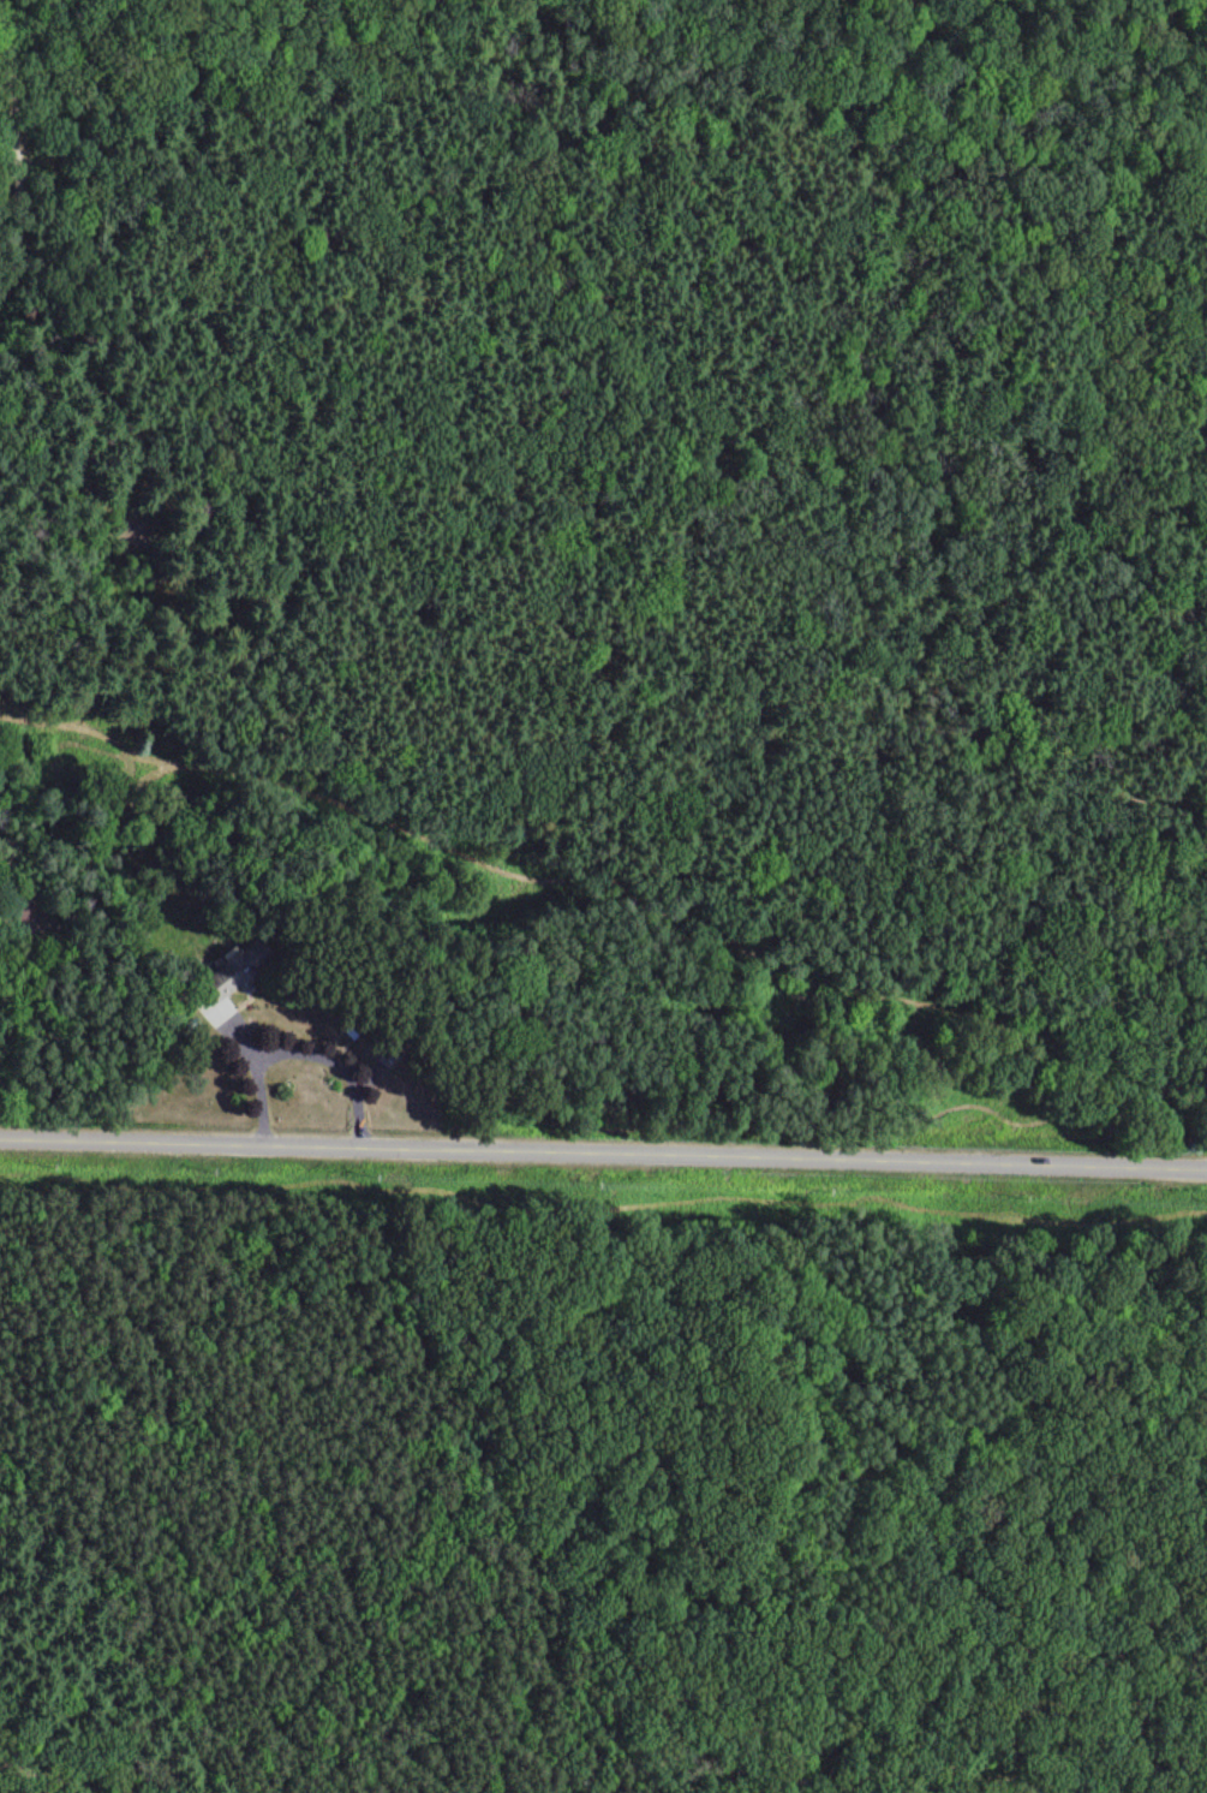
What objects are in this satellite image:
road: (25, 723)
building: (23, 909)
road: (645, 913)
building: (229, 971)
road: (603, 1151)
road: (46, 1771)

